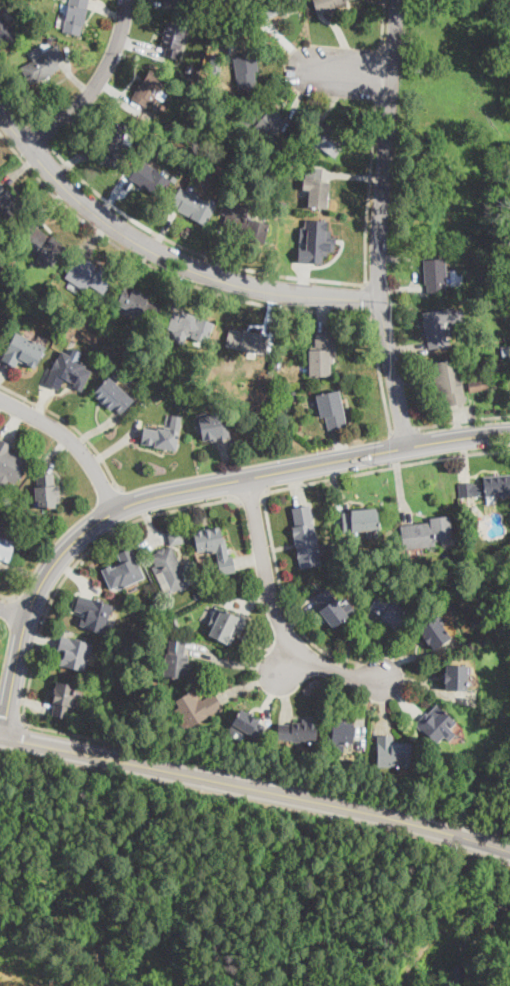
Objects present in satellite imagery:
building: (174, 1)
building: (326, 4)
building: (2, 5)
building: (272, 8)
road: (107, 11)
building: (75, 16)
road: (381, 23)
building: (6, 33)
building: (173, 40)
building: (49, 41)
road: (342, 41)
road: (137, 46)
road: (290, 47)
building: (67, 52)
road: (280, 59)
building: (42, 63)
building: (246, 70)
road: (352, 74)
road: (376, 76)
road: (75, 79)
road: (95, 85)
building: (150, 89)
road: (118, 94)
road: (299, 100)
building: (219, 101)
road: (332, 102)
road: (18, 107)
road: (1, 117)
building: (264, 118)
road: (42, 138)
building: (330, 140)
building: (113, 144)
building: (185, 147)
road: (384, 148)
road: (73, 160)
road: (20, 170)
building: (274, 170)
road: (353, 176)
building: (148, 179)
building: (245, 183)
road: (115, 189)
building: (317, 193)
road: (367, 194)
building: (9, 205)
building: (193, 206)
road: (54, 208)
building: (280, 215)
building: (244, 225)
road: (163, 228)
road: (89, 235)
building: (321, 242)
building: (43, 246)
road: (191, 251)
road: (219, 253)
road: (165, 255)
road: (317, 264)
road: (139, 266)
building: (91, 273)
building: (469, 274)
building: (436, 275)
building: (455, 276)
building: (503, 283)
road: (185, 287)
road: (400, 289)
road: (217, 292)
road: (366, 299)
building: (138, 303)
road: (273, 310)
road: (322, 312)
building: (80, 318)
building: (439, 325)
building: (189, 328)
building: (249, 339)
road: (411, 349)
building: (505, 350)
building: (23, 351)
building: (321, 356)
building: (278, 364)
road: (3, 370)
building: (67, 372)
road: (393, 373)
building: (504, 376)
building: (448, 383)
building: (474, 385)
building: (112, 395)
building: (293, 396)
road: (42, 402)
road: (2, 403)
building: (331, 409)
road: (463, 420)
road: (460, 422)
road: (14, 423)
road: (72, 425)
building: (212, 428)
road: (99, 429)
road: (404, 431)
building: (162, 435)
road: (72, 439)
road: (117, 445)
road: (341, 446)
road: (55, 452)
road: (464, 460)
road: (227, 462)
building: (10, 463)
road: (338, 485)
road: (297, 486)
road: (401, 486)
road: (290, 487)
building: (486, 487)
road: (180, 489)
building: (46, 491)
road: (251, 499)
road: (131, 503)
building: (360, 520)
road: (150, 522)
road: (113, 530)
building: (426, 533)
building: (175, 538)
building: (305, 538)
building: (214, 547)
building: (6, 549)
road: (78, 557)
road: (249, 561)
building: (333, 567)
road: (22, 569)
building: (169, 570)
building: (123, 571)
road: (77, 574)
building: (480, 575)
road: (8, 598)
road: (252, 601)
road: (30, 603)
building: (330, 608)
road: (13, 610)
road: (275, 610)
building: (388, 612)
building: (93, 613)
road: (300, 618)
building: (175, 622)
building: (473, 622)
building: (225, 626)
building: (434, 634)
road: (38, 636)
road: (352, 640)
building: (74, 653)
road: (417, 655)
building: (175, 660)
road: (289, 661)
road: (234, 662)
building: (455, 678)
road: (250, 686)
road: (428, 686)
road: (270, 695)
road: (287, 696)
road: (400, 696)
building: (63, 700)
road: (29, 701)
road: (383, 706)
building: (195, 709)
road: (362, 713)
road: (11, 720)
building: (435, 725)
building: (246, 726)
building: (299, 730)
building: (340, 735)
road: (1, 737)
building: (392, 753)
road: (267, 772)
road: (257, 789)

